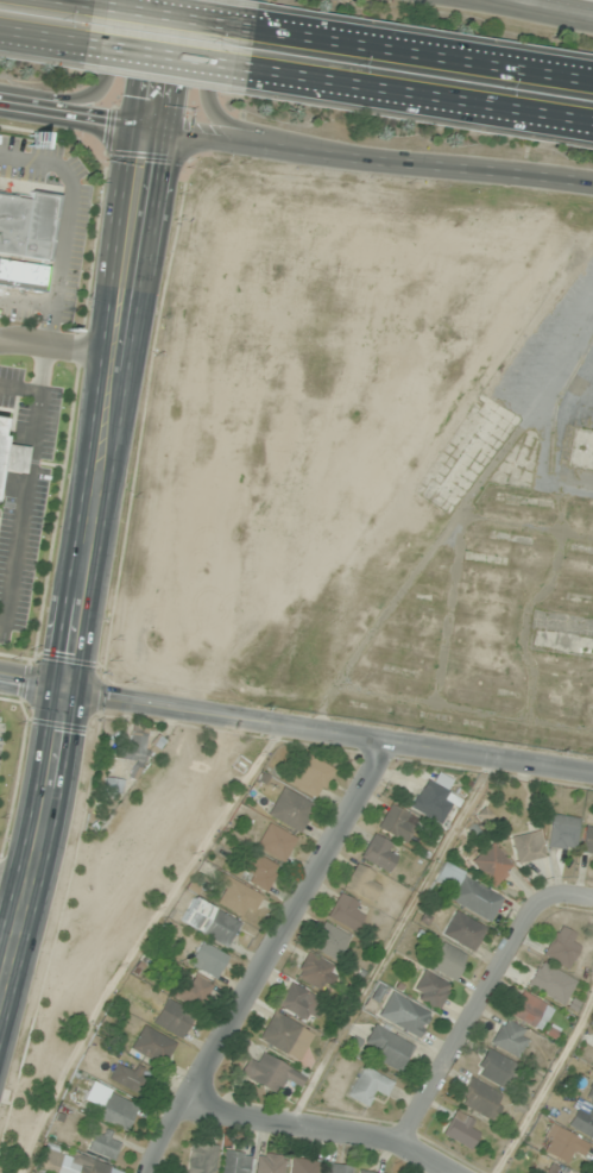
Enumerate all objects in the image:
road: (70, 2)
road: (543, 8)
road: (171, 18)
road: (42, 44)
road: (422, 56)
road: (156, 63)
road: (164, 63)
road: (95, 93)
road: (418, 101)
road: (219, 119)
traffic signals: (147, 127)
road: (295, 149)
road: (67, 222)
building: (26, 225)
road: (26, 302)
road: (57, 346)
road: (107, 408)
building: (582, 450)
building: (12, 459)
road: (25, 484)
road: (33, 683)
traffic signals: (67, 689)
road: (329, 730)
building: (132, 746)
building: (311, 776)
building: (113, 786)
building: (431, 802)
building: (290, 810)
building: (395, 823)
building: (562, 832)
road: (39, 841)
building: (587, 841)
building: (275, 842)
building: (526, 847)
building: (379, 853)
building: (492, 865)
building: (259, 872)
building: (361, 883)
building: (236, 896)
road: (570, 896)
building: (474, 898)
building: (345, 912)
building: (209, 922)
building: (463, 931)
building: (329, 941)
building: (561, 947)
road: (266, 956)
building: (207, 960)
building: (447, 961)
building: (314, 972)
building: (550, 984)
building: (191, 990)
building: (430, 990)
building: (302, 1004)
building: (526, 1009)
road: (469, 1014)
building: (404, 1015)
building: (172, 1018)
building: (279, 1033)
building: (510, 1039)
building: (152, 1046)
building: (387, 1048)
building: (494, 1068)
building: (270, 1074)
building: (130, 1078)
building: (368, 1086)
building: (589, 1093)
building: (480, 1099)
building: (111, 1106)
building: (582, 1121)
road: (326, 1125)
building: (461, 1129)
building: (105, 1144)
building: (562, 1144)
building: (201, 1159)
building: (235, 1162)
building: (68, 1163)
building: (269, 1163)
building: (303, 1166)
building: (336, 1168)
building: (551, 1171)
building: (365, 1172)

